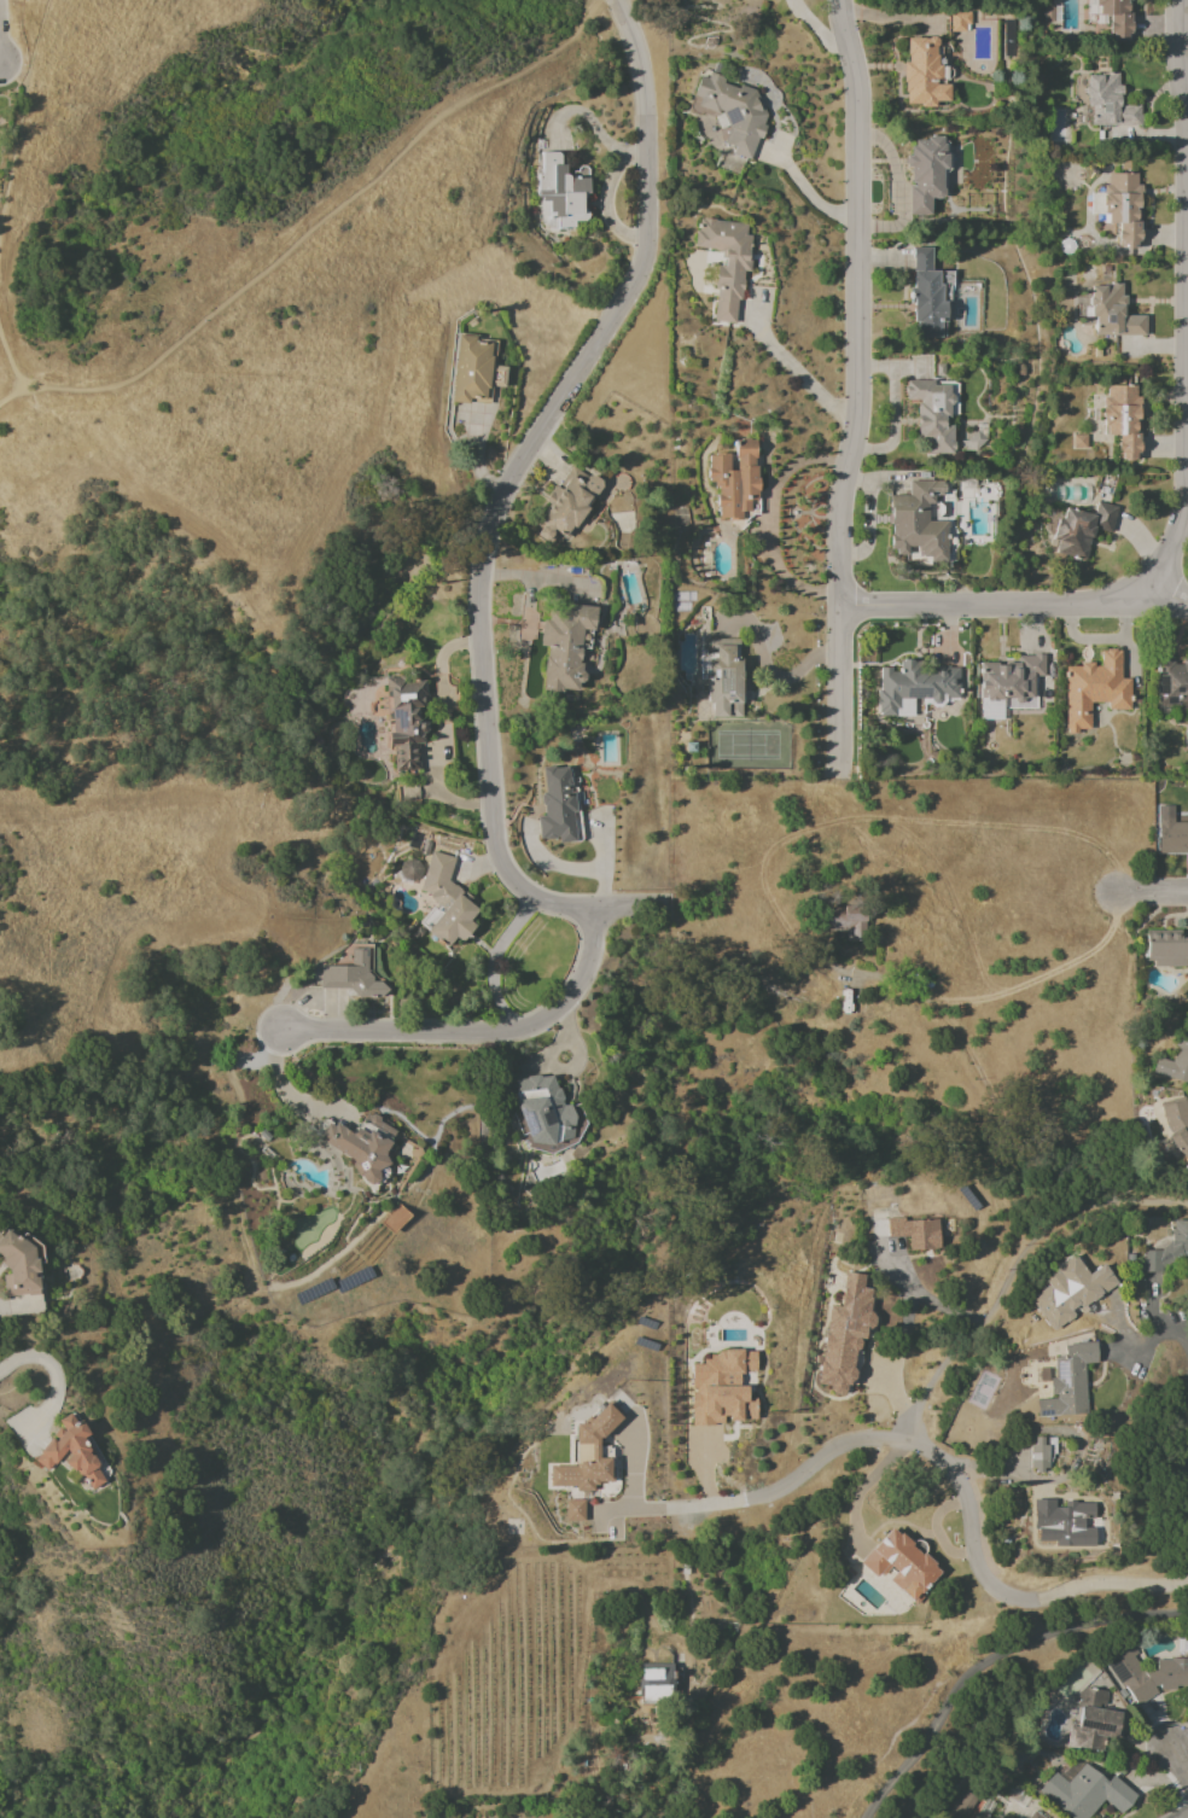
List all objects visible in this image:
building: (1048, 13)
building: (1114, 17)
building: (957, 22)
building: (922, 72)
building: (1107, 101)
building: (732, 111)
road: (14, 129)
building: (925, 173)
road: (803, 188)
building: (561, 191)
building: (1119, 206)
road: (309, 227)
building: (726, 261)
building: (928, 296)
building: (1111, 311)
road: (8, 356)
building: (472, 369)
road: (793, 377)
road: (854, 386)
building: (932, 414)
building: (1122, 419)
road: (1182, 458)
building: (734, 479)
road: (496, 503)
building: (566, 506)
building: (918, 521)
building: (1079, 529)
road: (1172, 599)
building: (564, 646)
building: (723, 676)
building: (1011, 678)
building: (914, 684)
building: (1171, 684)
building: (1093, 689)
building: (406, 721)
building: (557, 805)
building: (1170, 832)
building: (409, 869)
road: (1154, 893)
building: (444, 902)
building: (841, 921)
building: (1165, 948)
building: (350, 977)
road: (1006, 991)
road: (477, 1033)
building: (1175, 1062)
road: (281, 1086)
building: (546, 1113)
building: (1177, 1124)
building: (359, 1143)
building: (915, 1233)
building: (18, 1265)
building: (1070, 1290)
building: (845, 1333)
road: (1169, 1339)
road: (45, 1360)
building: (1067, 1381)
building: (721, 1388)
road: (916, 1423)
building: (70, 1450)
building: (1041, 1453)
building: (588, 1455)
road: (1187, 1462)
road: (759, 1498)
building: (573, 1509)
building: (1062, 1522)
building: (899, 1563)
road: (686, 1587)
road: (992, 1661)
building: (1146, 1674)
building: (657, 1682)
building: (1091, 1721)
road: (1177, 1761)
building: (1084, 1791)
building: (965, 1805)
building: (1032, 1816)
road: (1186, 1817)

